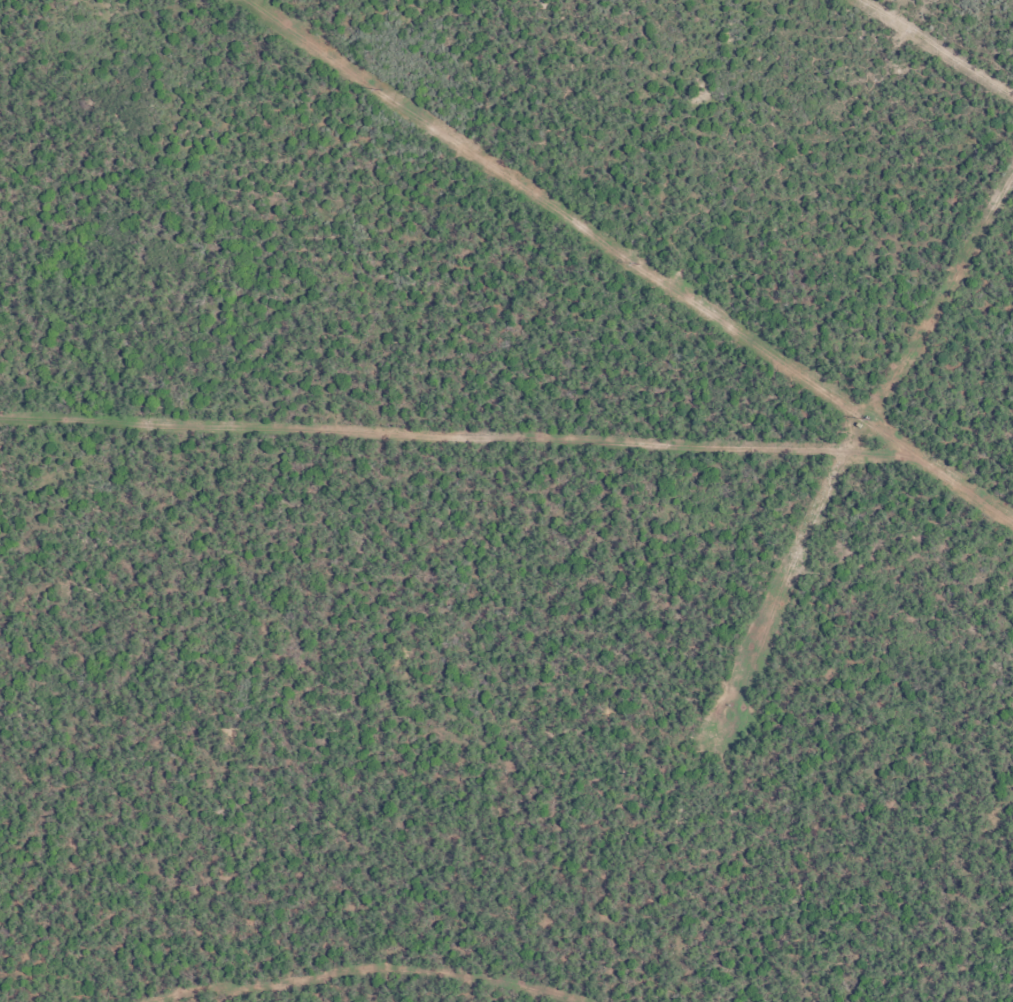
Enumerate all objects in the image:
power tower: (381, 88)
power tower: (638, 262)
power tower: (879, 423)

